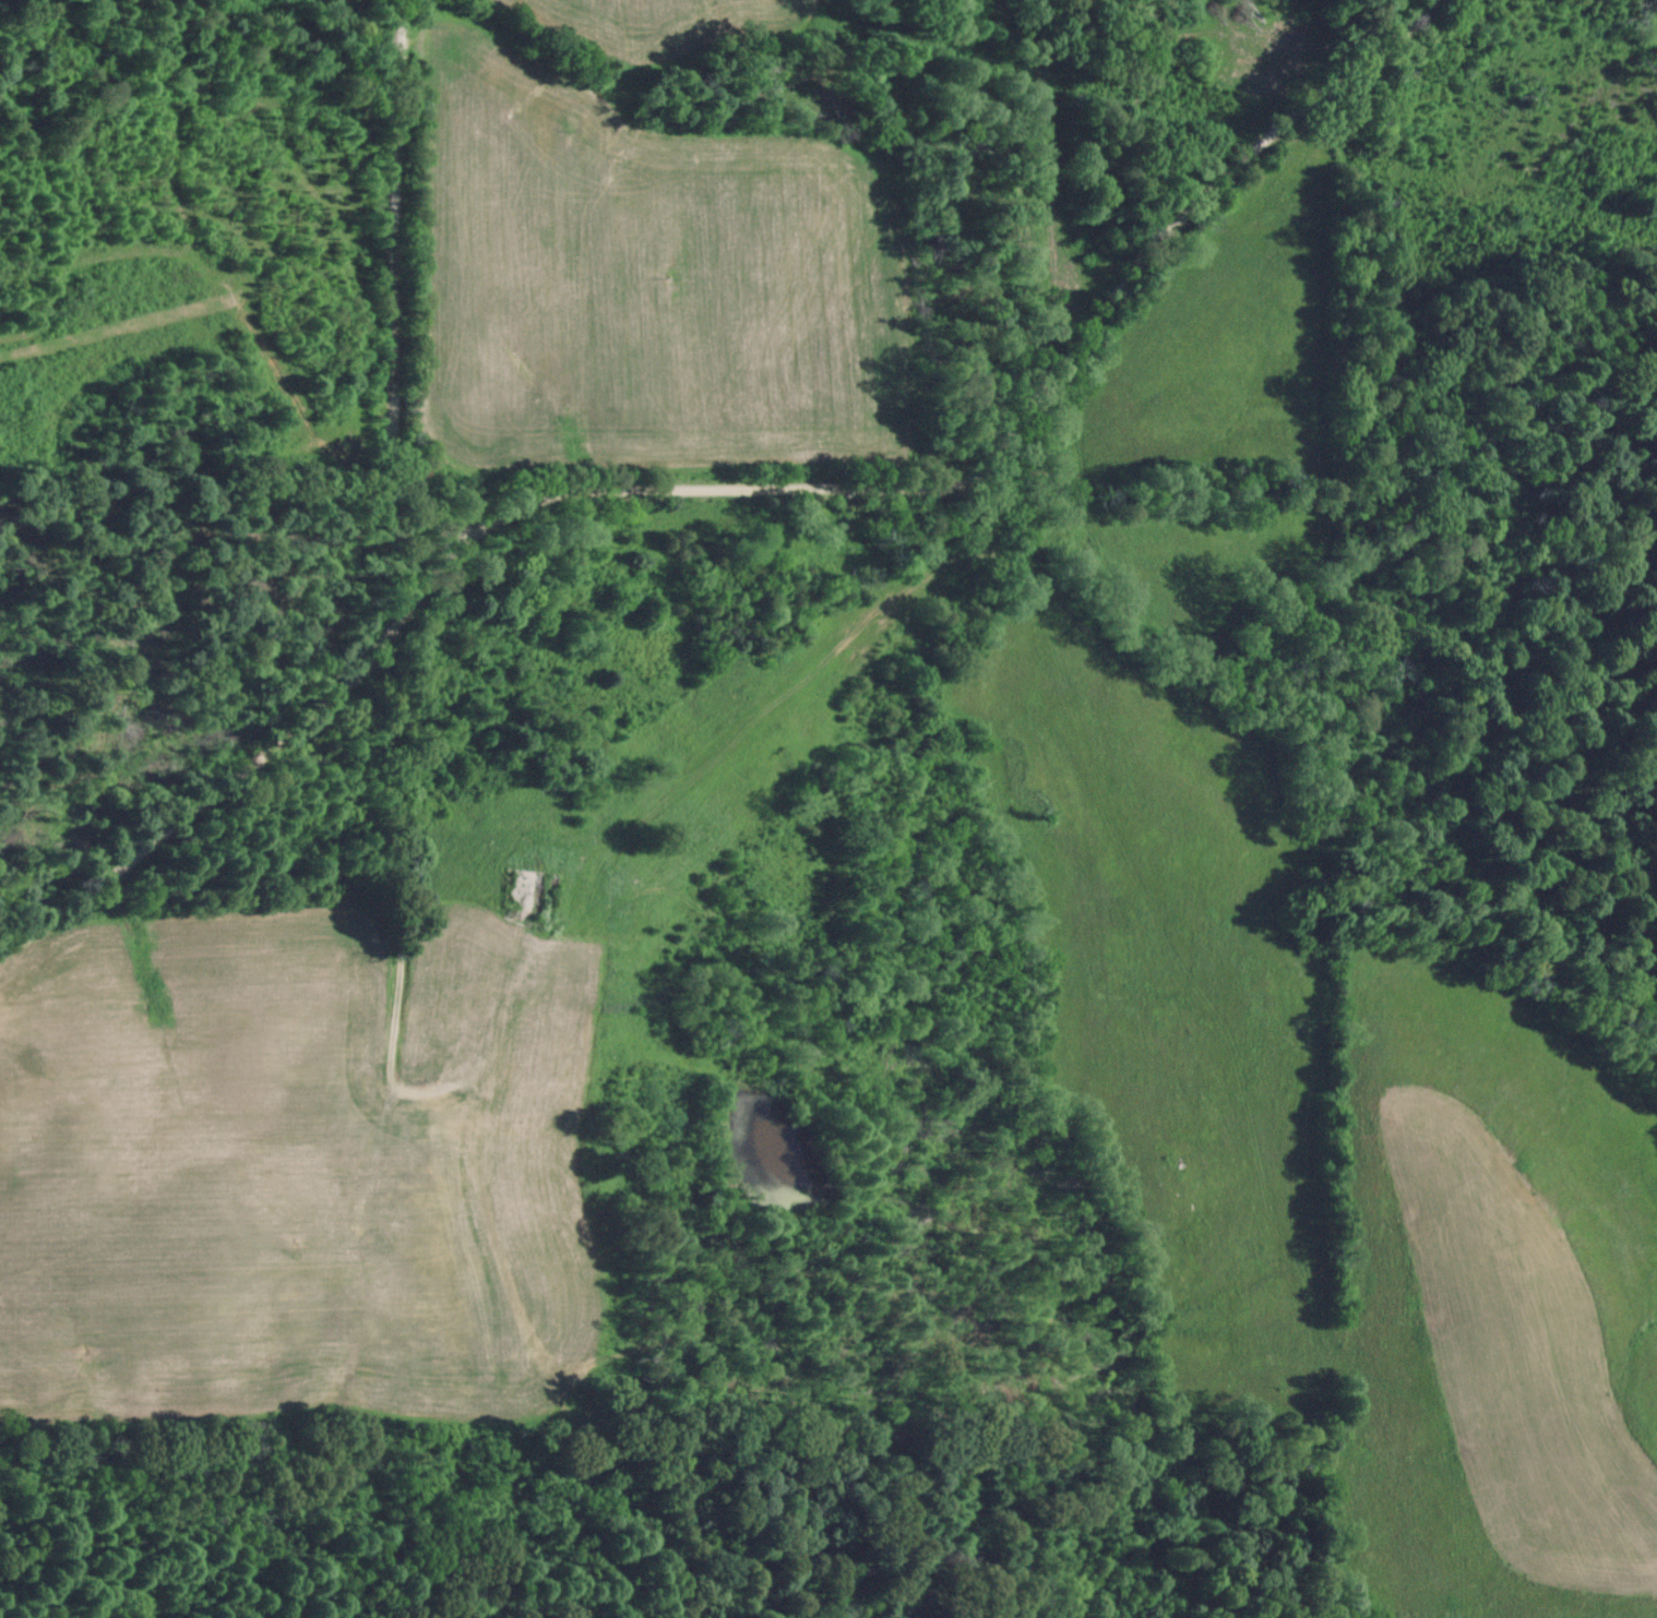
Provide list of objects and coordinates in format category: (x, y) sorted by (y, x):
road: (394, 283)
road: (739, 489)
road: (390, 843)
building: (532, 894)
building: (509, 952)

